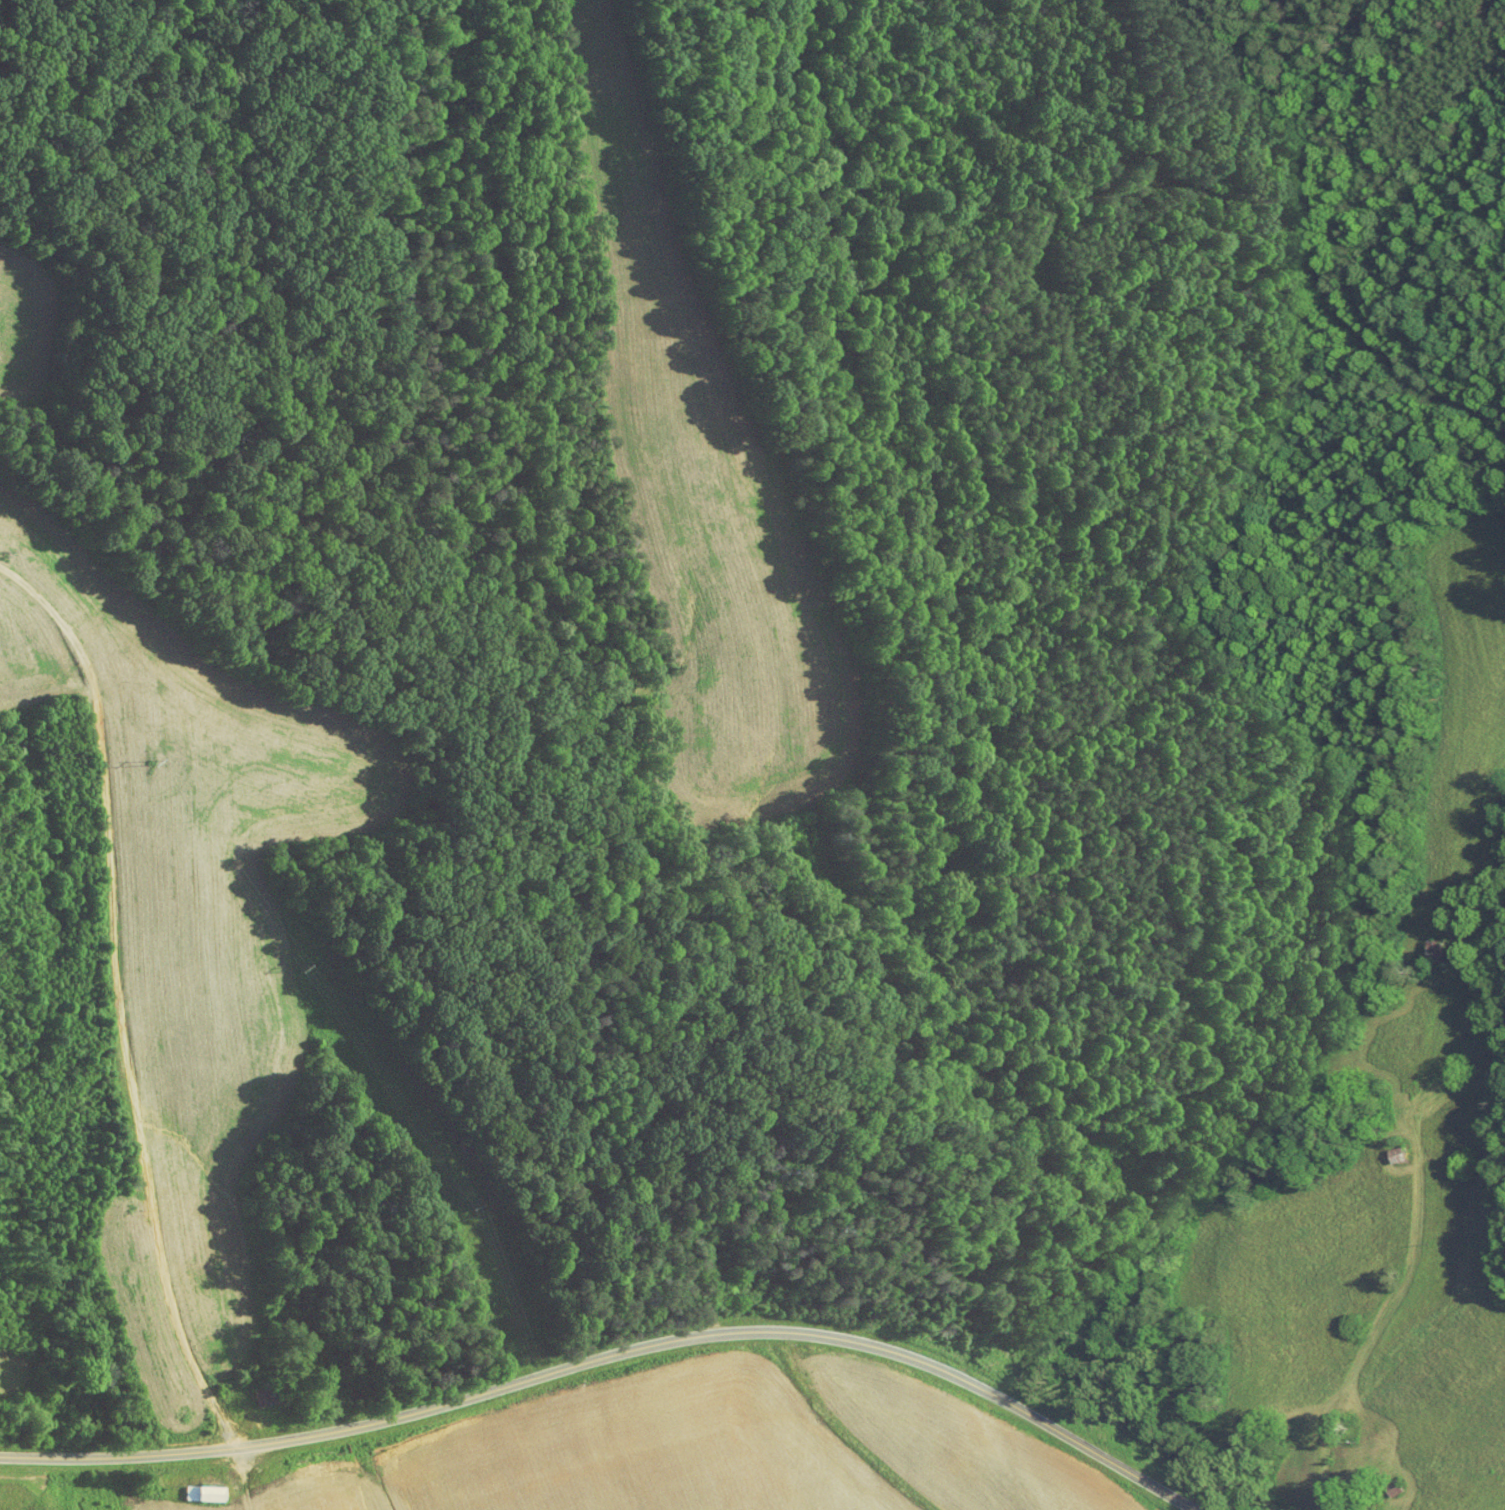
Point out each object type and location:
building: (1427, 941)
building: (1389, 1149)
road: (612, 1355)
building: (251, 1389)
building: (193, 1487)

